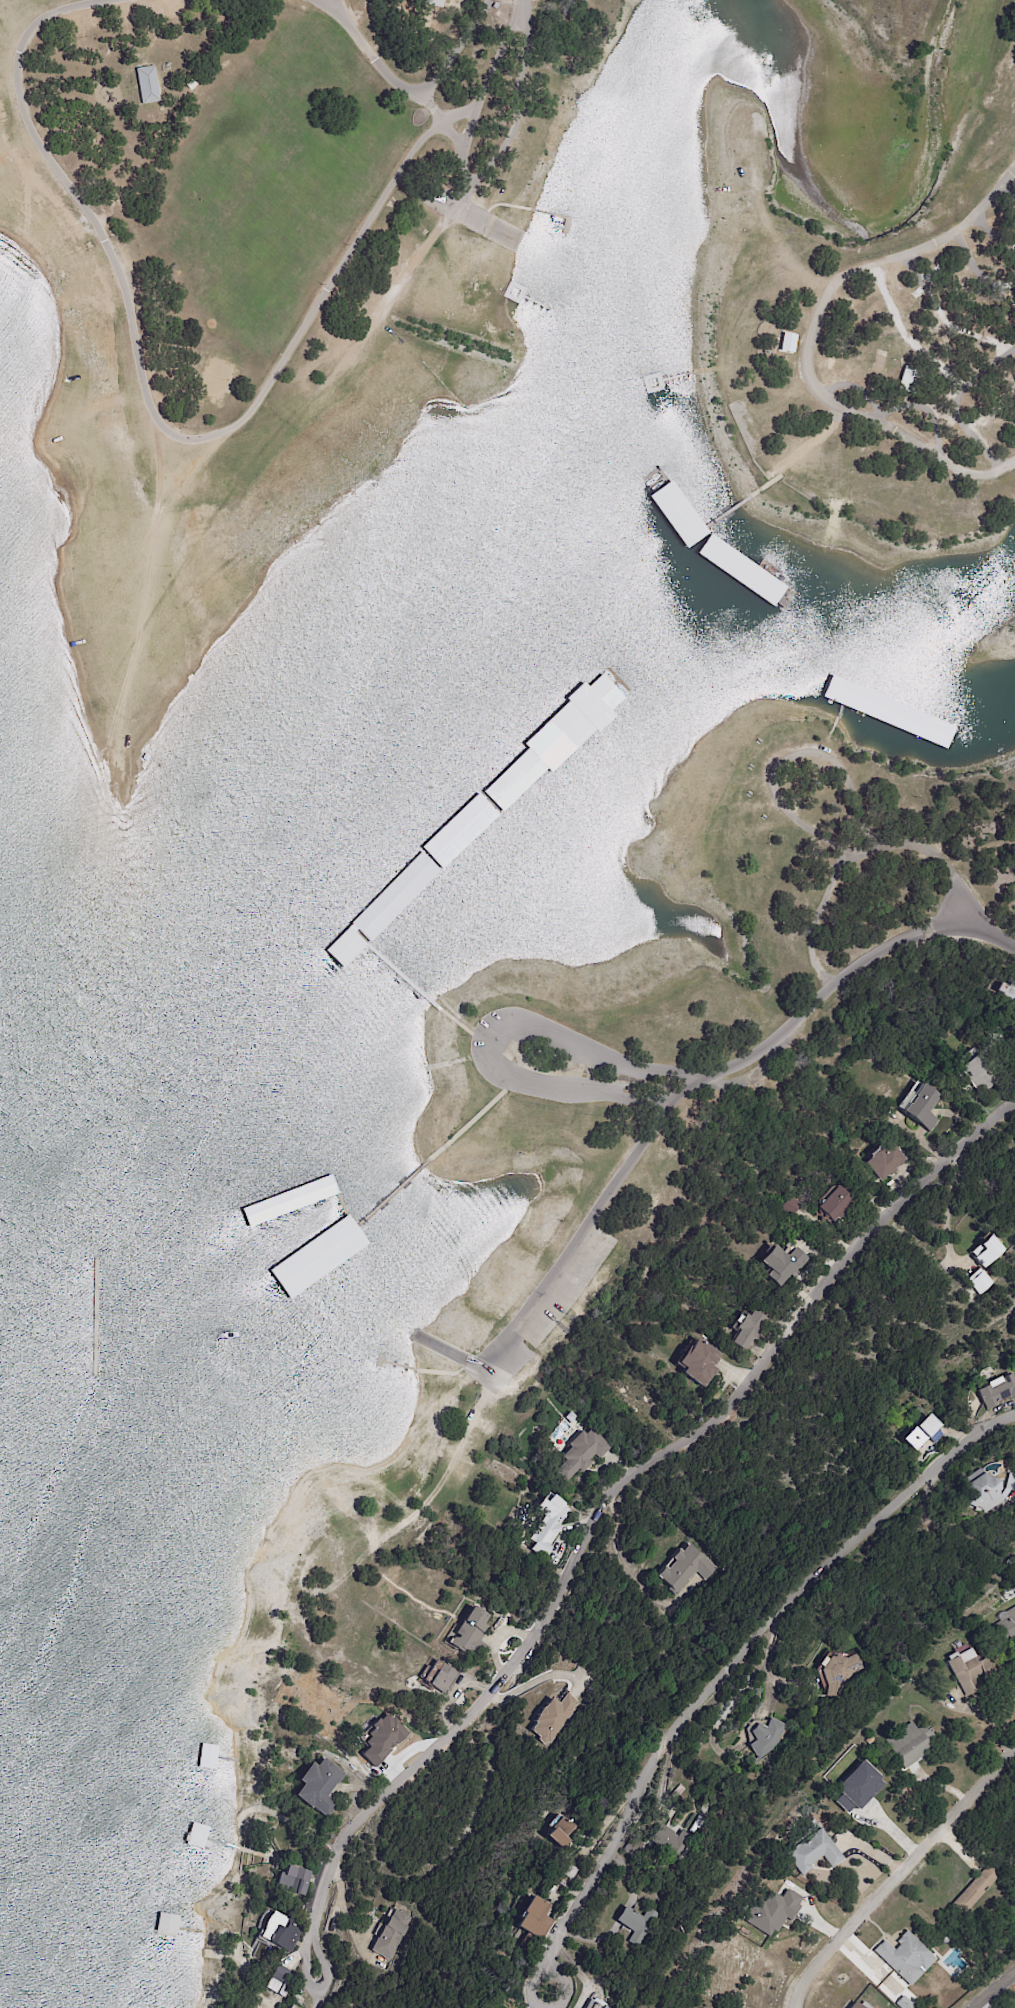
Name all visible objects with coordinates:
building: (433, 3)
building: (494, 7)
building: (146, 86)
road: (405, 89)
road: (811, 338)
building: (787, 341)
building: (908, 379)
building: (276, 418)
road: (197, 437)
building: (681, 533)
building: (751, 580)
building: (544, 743)
road: (847, 974)
building: (1002, 986)
building: (1012, 988)
road: (489, 1048)
building: (979, 1072)
building: (922, 1106)
building: (885, 1160)
building: (834, 1204)
building: (791, 1205)
road: (948, 1210)
building: (989, 1250)
building: (318, 1263)
building: (784, 1265)
building: (982, 1282)
building: (748, 1329)
building: (698, 1362)
building: (997, 1390)
building: (923, 1432)
building: (580, 1454)
building: (989, 1492)
road: (610, 1501)
building: (546, 1525)
building: (682, 1569)
building: (1006, 1596)
building: (1004, 1627)
building: (467, 1633)
road: (732, 1664)
building: (968, 1671)
building: (841, 1674)
building: (439, 1676)
building: (553, 1719)
building: (767, 1738)
building: (870, 1741)
building: (910, 1744)
building: (855, 1786)
building: (316, 1788)
building: (700, 1823)
building: (560, 1835)
building: (668, 1842)
building: (635, 1848)
building: (814, 1853)
road: (900, 1871)
building: (570, 1873)
building: (292, 1883)
building: (975, 1891)
building: (771, 1910)
building: (532, 1925)
building: (638, 1925)
building: (392, 1935)
building: (283, 1939)
building: (903, 1958)
building: (278, 1982)
road: (992, 1990)
building: (597, 2004)
building: (903, 2004)
building: (854, 2006)
building: (477, 2007)

